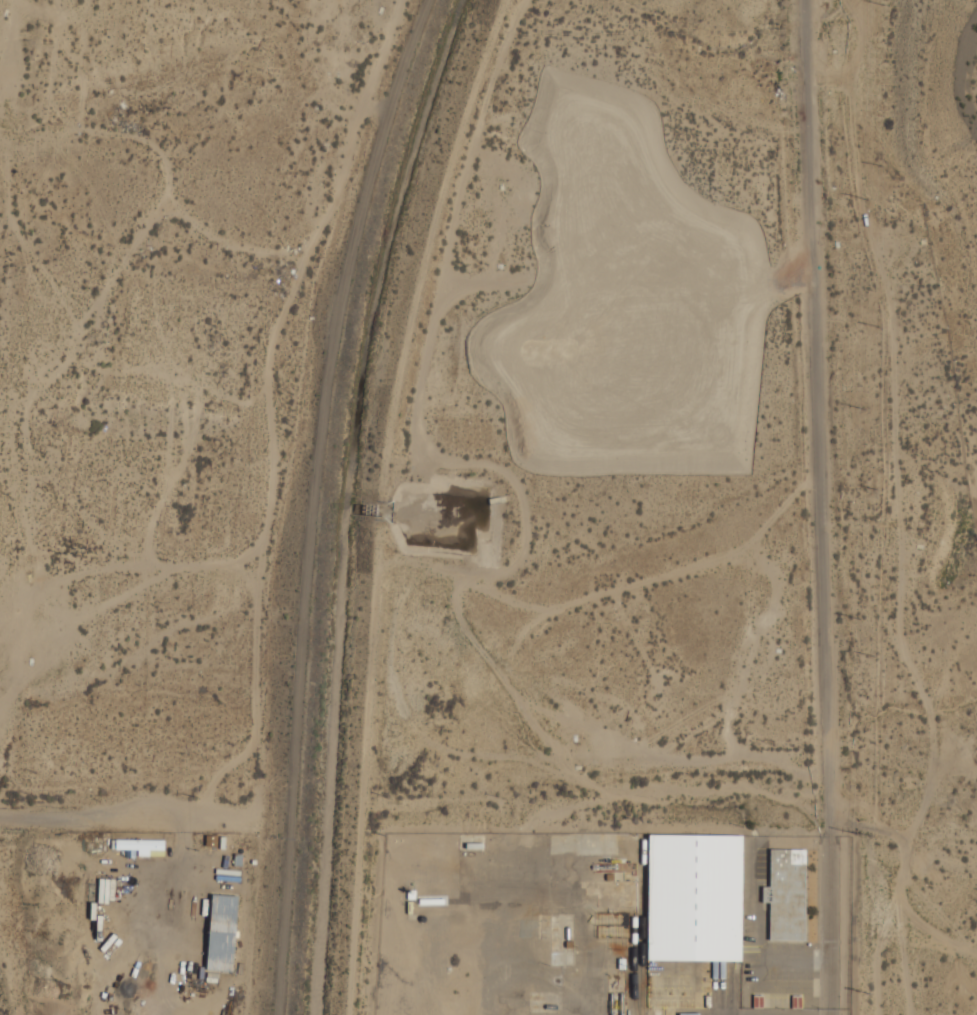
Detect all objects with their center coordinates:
road: (820, 507)
road: (113, 816)
building: (139, 844)
building: (787, 893)
building: (695, 897)
railway: (642, 925)
building: (614, 927)
building: (222, 932)

